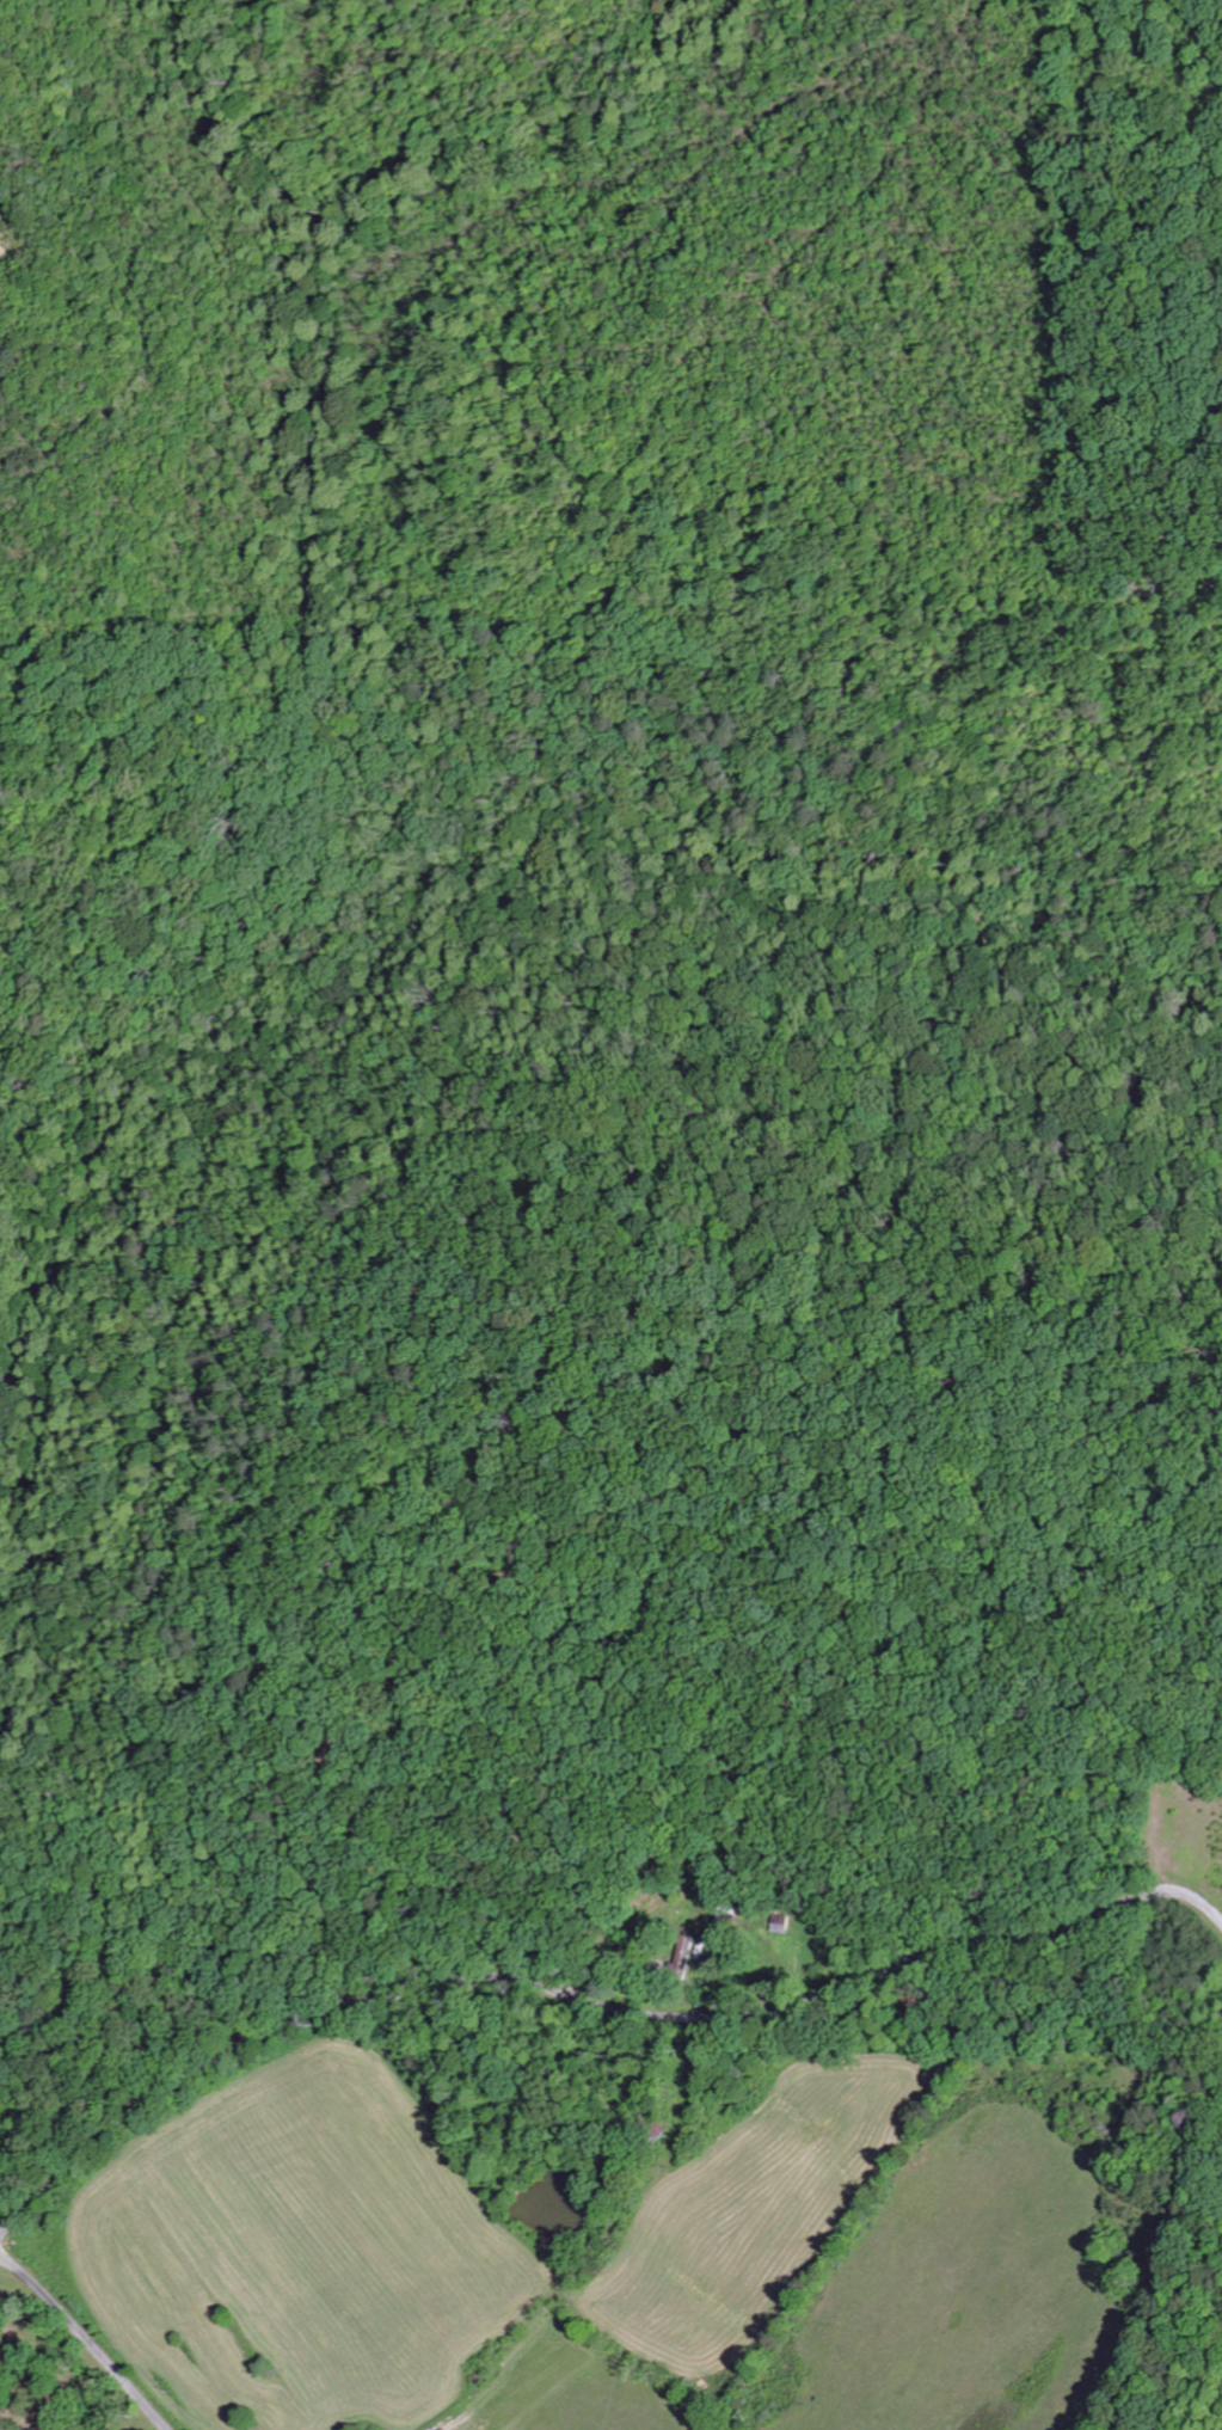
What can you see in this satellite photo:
road: (588, 2002)
road: (81, 2343)

